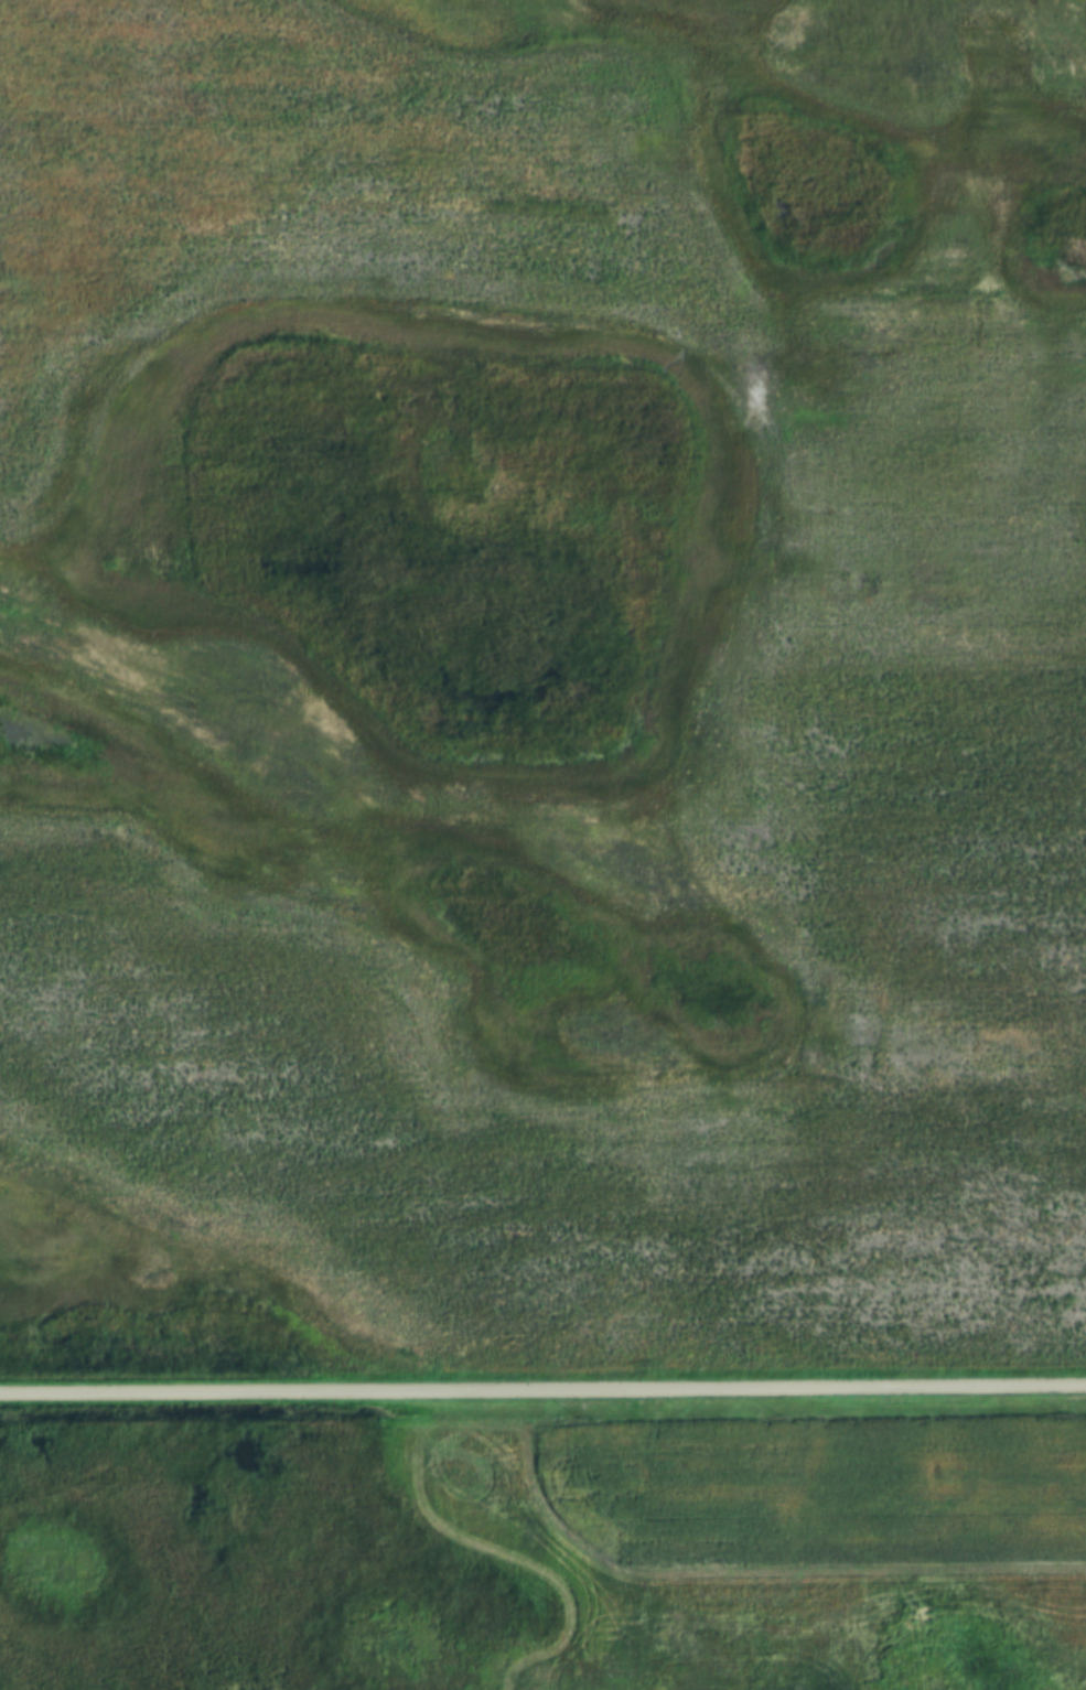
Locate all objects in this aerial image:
road: (542, 1392)

